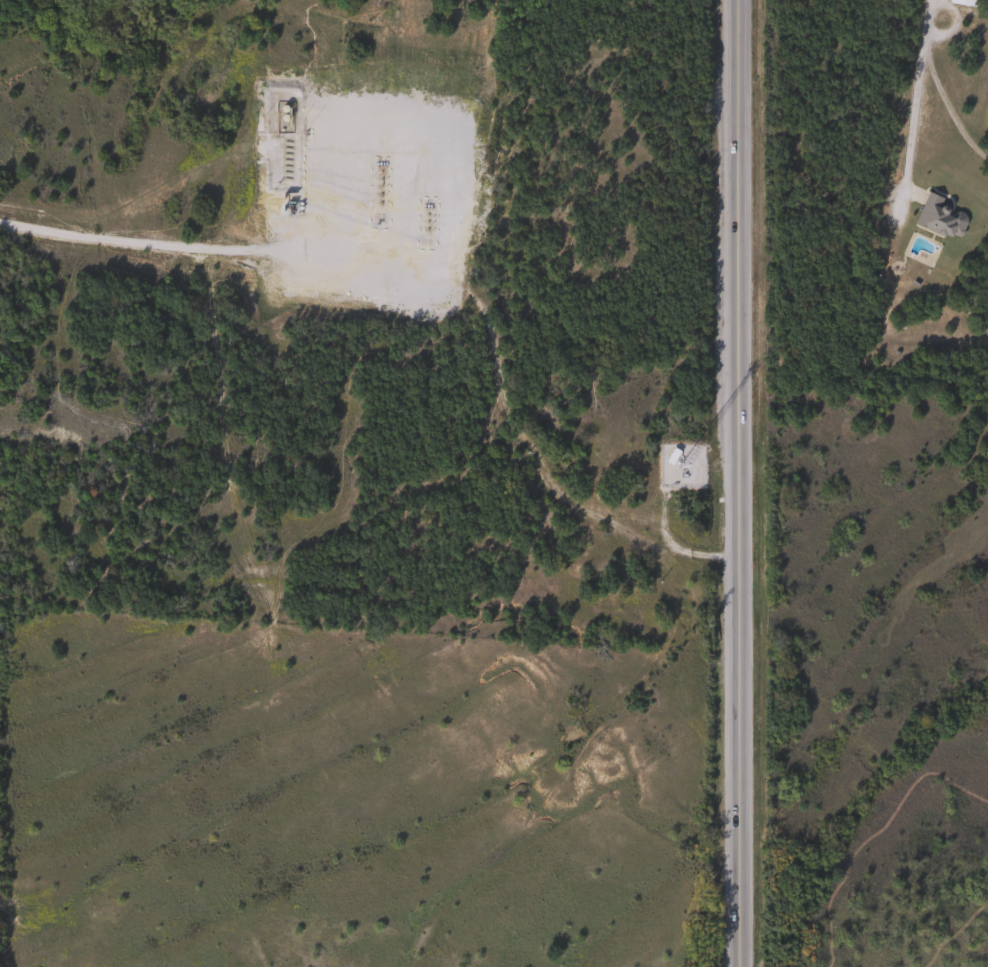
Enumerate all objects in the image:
road: (913, 90)
building: (936, 215)
road: (141, 240)
building: (670, 456)
road: (737, 483)

